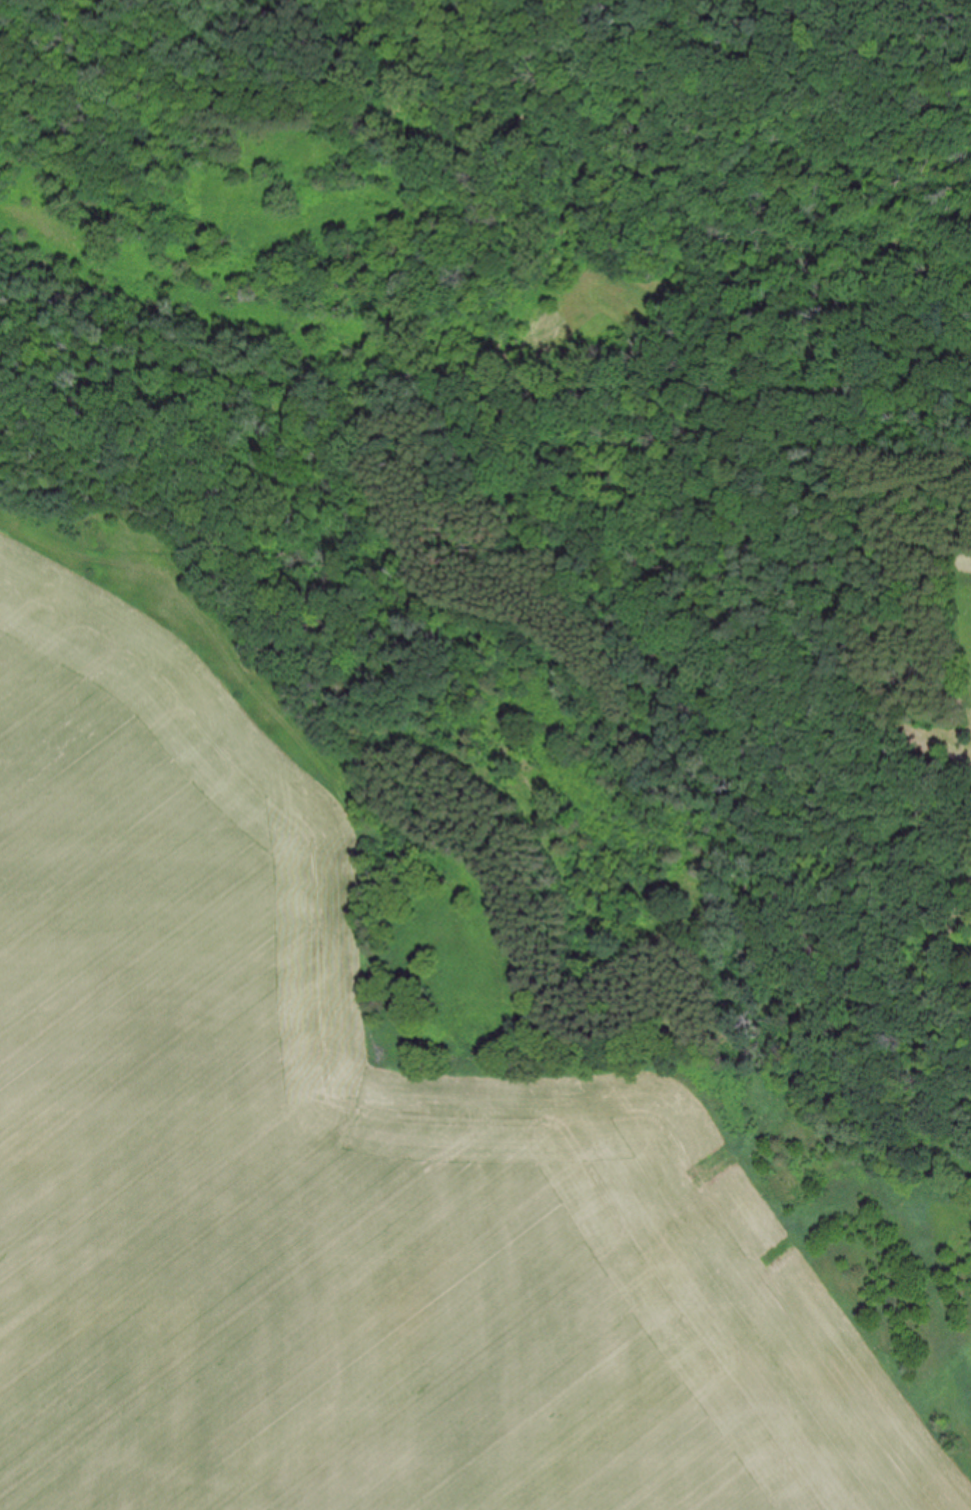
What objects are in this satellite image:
crop: (396, 1146)

